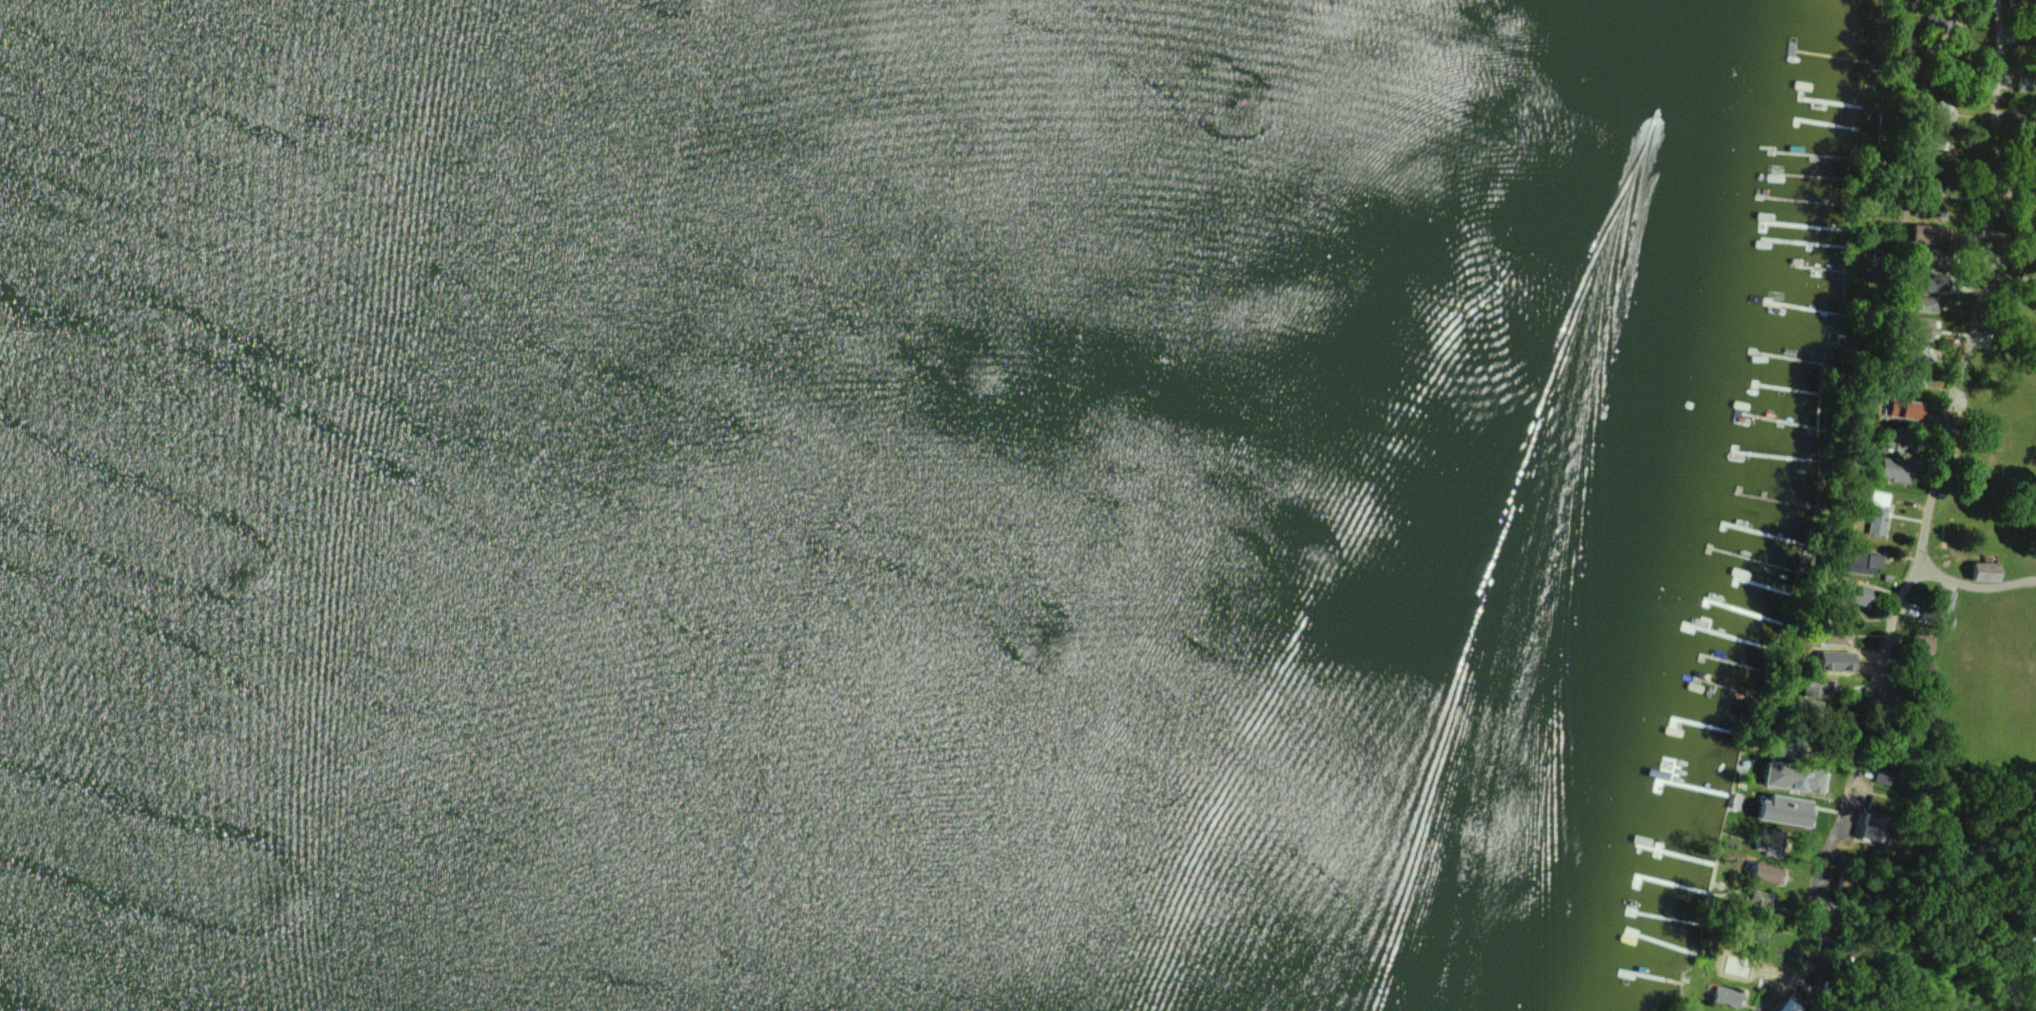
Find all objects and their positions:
building: (1929, 234)
building: (1935, 281)
building: (1926, 303)
road: (1966, 346)
building: (1907, 409)
building: (1897, 468)
building: (1877, 512)
building: (1874, 560)
building: (1984, 569)
road: (1898, 616)
building: (1837, 660)
building: (1814, 688)
building: (1887, 776)
building: (1796, 777)
building: (1789, 809)
building: (1870, 826)
road: (1823, 863)
building: (1769, 872)
building: (1760, 899)
road: (1886, 944)
building: (1727, 996)
building: (1790, 1005)

